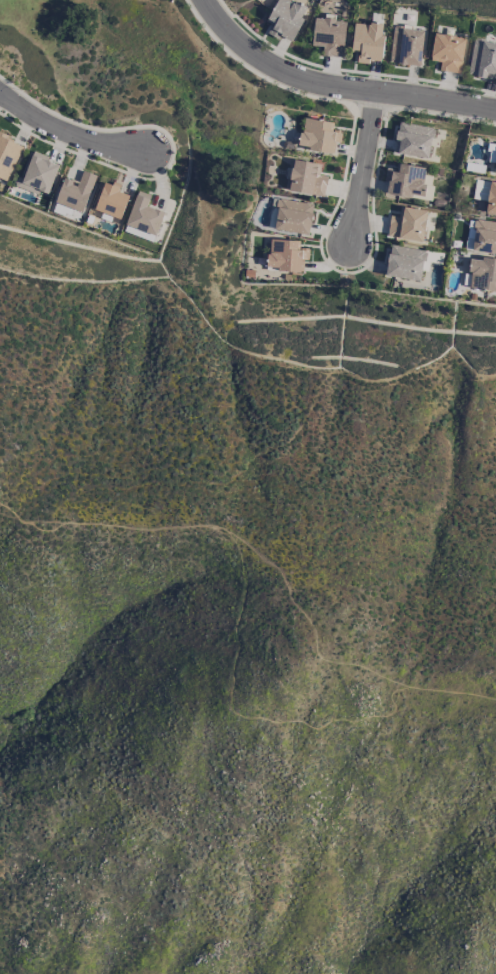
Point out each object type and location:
building: (286, 19)
building: (329, 35)
building: (367, 41)
building: (406, 46)
building: (447, 52)
building: (482, 58)
road: (333, 85)
road: (66, 133)
building: (318, 135)
building: (414, 139)
building: (492, 154)
building: (7, 155)
road: (363, 169)
building: (38, 174)
building: (306, 178)
building: (408, 182)
building: (75, 191)
building: (491, 198)
building: (111, 200)
building: (143, 214)
building: (291, 215)
building: (407, 224)
building: (484, 236)
building: (286, 254)
building: (404, 262)
building: (482, 273)
road: (310, 626)
road: (236, 643)

